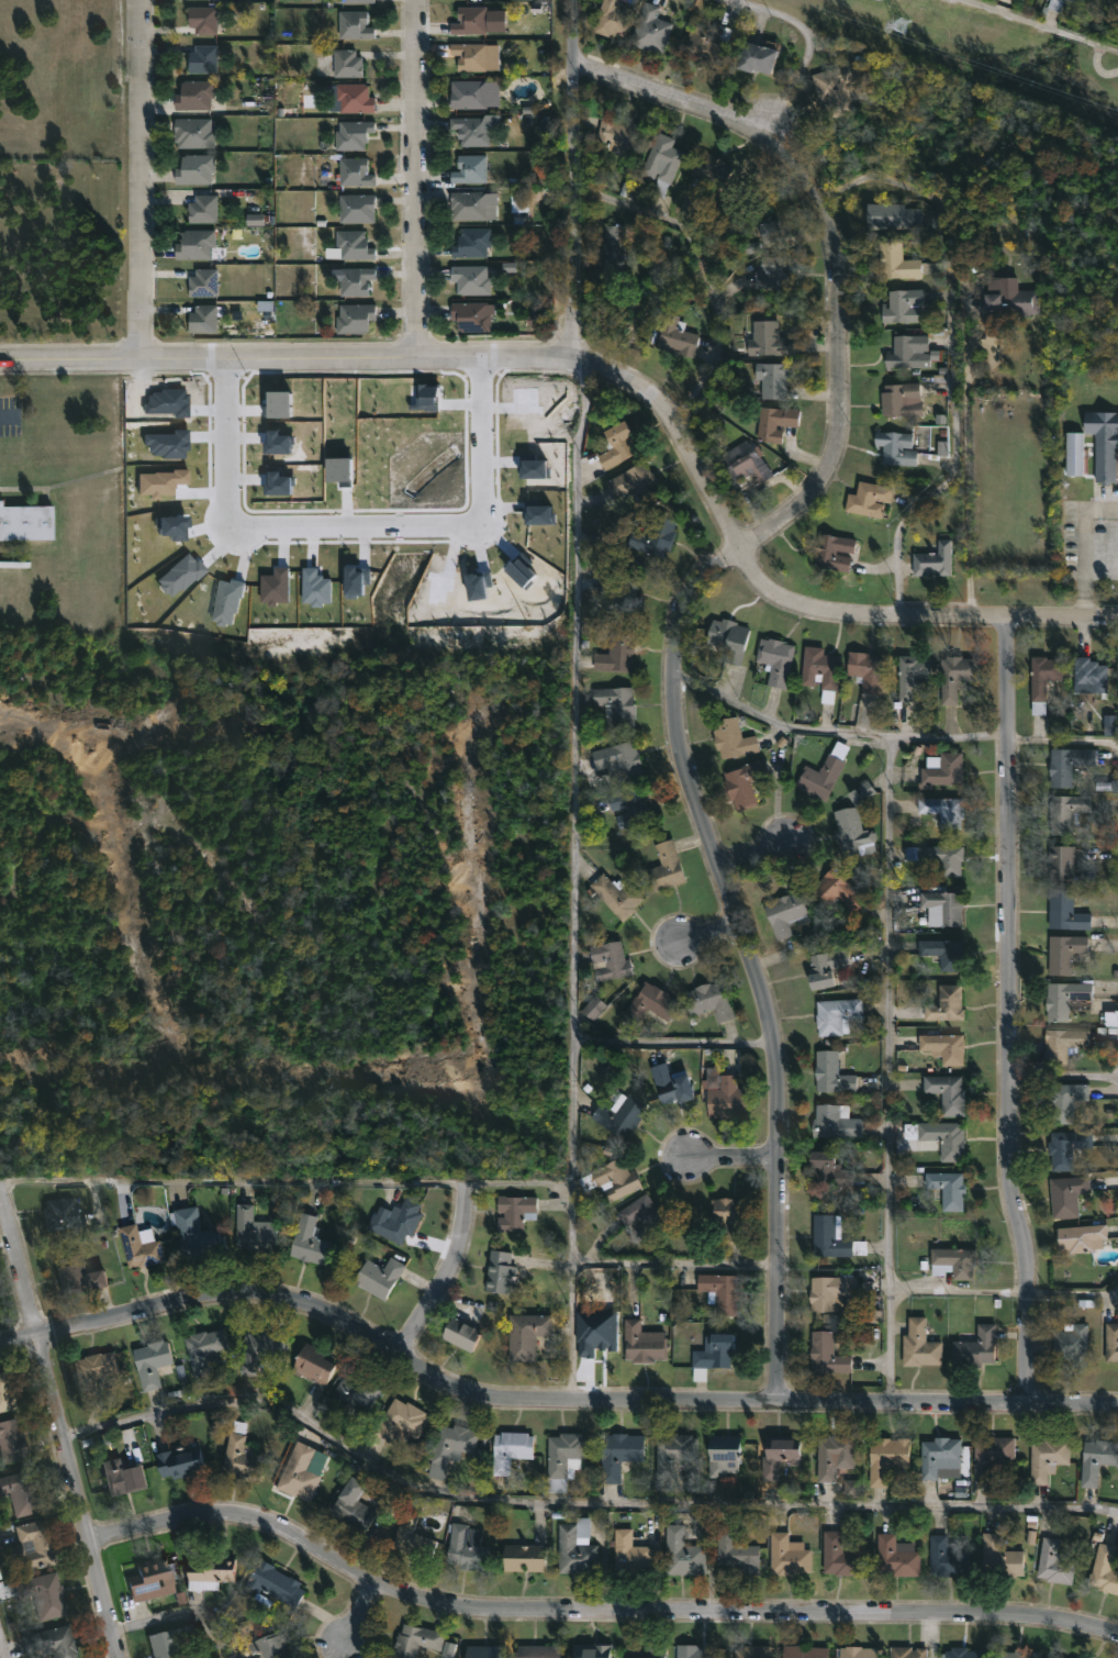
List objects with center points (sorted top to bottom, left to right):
building: (355, 1)
building: (1056, 3)
building: (612, 16)
building: (206, 19)
building: (469, 20)
power tower: (892, 23)
building: (353, 25)
road: (1040, 25)
building: (649, 30)
building: (706, 46)
road: (806, 51)
building: (468, 54)
building: (206, 58)
building: (754, 58)
building: (345, 63)
building: (836, 87)
building: (467, 93)
building: (198, 94)
building: (351, 98)
building: (469, 131)
building: (197, 132)
building: (350, 134)
building: (616, 134)
building: (661, 162)
building: (468, 168)
building: (199, 169)
building: (709, 170)
building: (354, 171)
road: (415, 178)
road: (571, 178)
road: (136, 179)
building: (469, 204)
building: (205, 208)
building: (356, 208)
building: (891, 215)
building: (255, 219)
building: (772, 233)
building: (470, 243)
building: (614, 244)
road: (835, 244)
building: (201, 245)
building: (351, 245)
building: (894, 262)
building: (776, 268)
building: (469, 278)
building: (354, 281)
building: (206, 282)
building: (1008, 301)
building: (901, 305)
building: (470, 315)
building: (353, 318)
building: (208, 319)
building: (675, 336)
building: (767, 340)
building: (907, 353)
road: (953, 356)
road: (287, 357)
building: (772, 379)
building: (427, 397)
building: (901, 400)
building: (279, 404)
road: (9, 415)
building: (773, 423)
building: (615, 442)
building: (279, 443)
building: (1103, 443)
building: (168, 445)
building: (895, 447)
building: (1074, 453)
building: (742, 464)
building: (536, 468)
building: (340, 469)
building: (634, 481)
building: (160, 482)
building: (280, 483)
road: (970, 483)
building: (867, 498)
building: (540, 514)
building: (25, 522)
building: (174, 527)
road: (354, 527)
building: (653, 535)
road: (1083, 543)
building: (832, 549)
building: (932, 559)
building: (180, 576)
building: (357, 580)
building: (276, 586)
building: (316, 587)
building: (621, 589)
road: (783, 601)
building: (226, 602)
building: (728, 638)
building: (616, 653)
building: (774, 659)
building: (819, 667)
building: (864, 670)
building: (912, 674)
building: (1089, 674)
building: (954, 675)
building: (1042, 679)
building: (615, 705)
building: (1109, 724)
road: (832, 730)
building: (733, 737)
road: (1062, 741)
building: (617, 757)
building: (1067, 764)
building: (942, 768)
building: (823, 771)
building: (744, 782)
building: (862, 792)
building: (629, 806)
building: (942, 810)
building: (1066, 812)
building: (852, 832)
road: (750, 853)
building: (938, 857)
building: (1060, 861)
building: (664, 866)
road: (571, 878)
building: (838, 889)
building: (616, 894)
building: (941, 908)
building: (1065, 911)
building: (784, 913)
road: (704, 927)
building: (1063, 952)
building: (944, 953)
road: (747, 956)
building: (607, 960)
building: (825, 967)
building: (1065, 999)
building: (709, 1000)
building: (646, 1004)
building: (944, 1004)
building: (593, 1008)
road: (1007, 1011)
building: (836, 1014)
road: (673, 1042)
building: (1062, 1043)
building: (942, 1046)
road: (888, 1068)
building: (831, 1072)
road: (1063, 1075)
building: (669, 1083)
building: (947, 1092)
building: (725, 1098)
building: (1065, 1100)
building: (617, 1114)
building: (835, 1122)
building: (947, 1138)
building: (1065, 1147)
road: (735, 1159)
building: (828, 1169)
building: (610, 1180)
road: (286, 1184)
building: (947, 1189)
building: (1066, 1195)
building: (513, 1212)
building: (65, 1214)
building: (644, 1215)
building: (728, 1219)
building: (393, 1221)
building: (255, 1229)
building: (199, 1234)
building: (832, 1237)
building: (1081, 1238)
building: (306, 1240)
building: (144, 1247)
road: (674, 1262)
building: (952, 1262)
building: (497, 1271)
road: (447, 1275)
building: (82, 1277)
building: (378, 1277)
road: (957, 1289)
building: (830, 1291)
road: (1072, 1291)
building: (718, 1292)
building: (864, 1316)
building: (461, 1332)
building: (595, 1332)
building: (526, 1335)
building: (641, 1343)
building: (1070, 1343)
building: (1111, 1343)
building: (918, 1346)
building: (974, 1347)
building: (205, 1349)
building: (257, 1351)
building: (826, 1353)
building: (711, 1355)
building: (155, 1362)
building: (313, 1364)
building: (98, 1370)
building: (350, 1391)
building: (8, 1392)
road: (541, 1403)
building: (400, 1420)
road: (58, 1421)
building: (452, 1439)
building: (14, 1442)
building: (507, 1448)
building: (673, 1451)
building: (244, 1453)
building: (937, 1453)
building: (991, 1453)
building: (616, 1454)
building: (723, 1454)
building: (776, 1454)
building: (834, 1455)
building: (1047, 1455)
building: (886, 1456)
building: (562, 1457)
building: (1096, 1457)
building: (185, 1460)
building: (298, 1468)
building: (127, 1475)
building: (852, 1488)
building: (21, 1491)
road: (575, 1501)
building: (351, 1504)
building: (388, 1509)
building: (411, 1536)
building: (33, 1546)
building: (466, 1546)
building: (574, 1546)
building: (628, 1550)
building: (682, 1551)
building: (736, 1551)
building: (787, 1554)
building: (839, 1555)
building: (947, 1555)
building: (523, 1556)
building: (895, 1556)
building: (1000, 1556)
building: (1054, 1561)
building: (1104, 1569)
building: (210, 1571)
building: (148, 1578)
building: (271, 1582)
building: (45, 1594)
road: (592, 1611)
road: (356, 1614)
road: (180, 1616)
building: (413, 1639)
road: (4, 1640)
building: (167, 1640)
building: (53, 1642)
building: (268, 1645)
building: (448, 1649)
building: (536, 1650)
building: (590, 1650)
building: (693, 1650)
building: (752, 1650)
building: (805, 1650)
building: (482, 1651)
building: (646, 1651)
building: (857, 1651)
building: (907, 1651)
building: (964, 1653)
building: (1019, 1654)
building: (1073, 1657)

